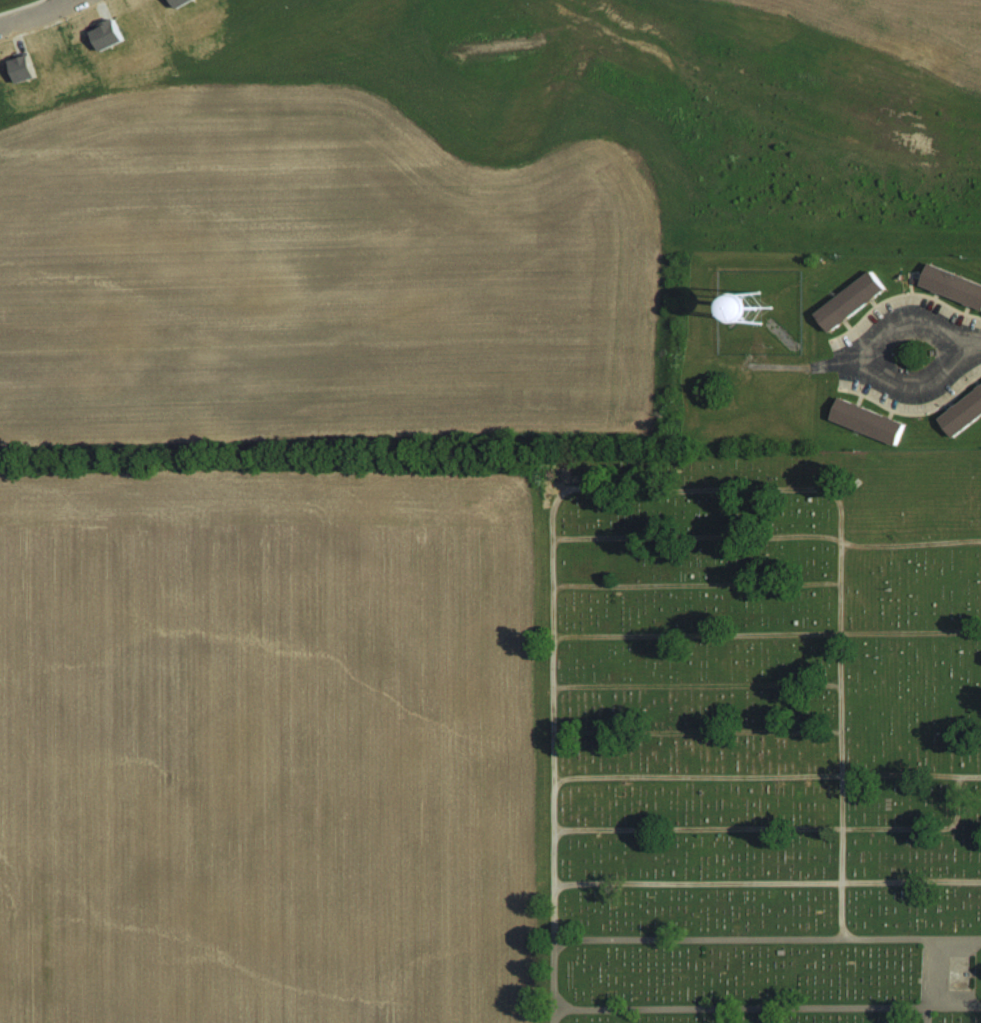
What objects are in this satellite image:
road: (70, 1)
building: (184, 2)
road: (38, 13)
building: (109, 36)
building: (26, 69)
building: (953, 284)
building: (855, 302)
water tower: (756, 306)
road: (902, 319)
road: (822, 363)
road: (911, 385)
building: (965, 416)
building: (870, 421)
park: (760, 738)

